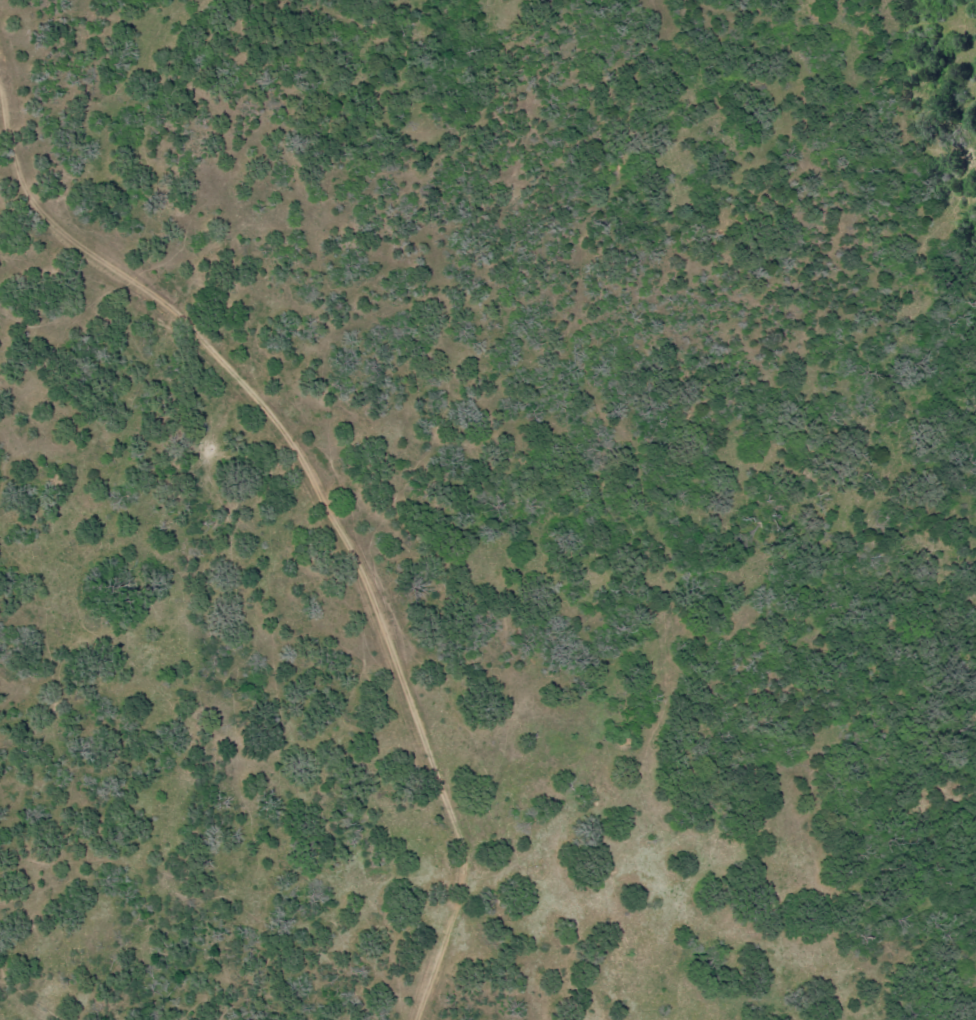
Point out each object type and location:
road: (41, 346)
road: (330, 514)

